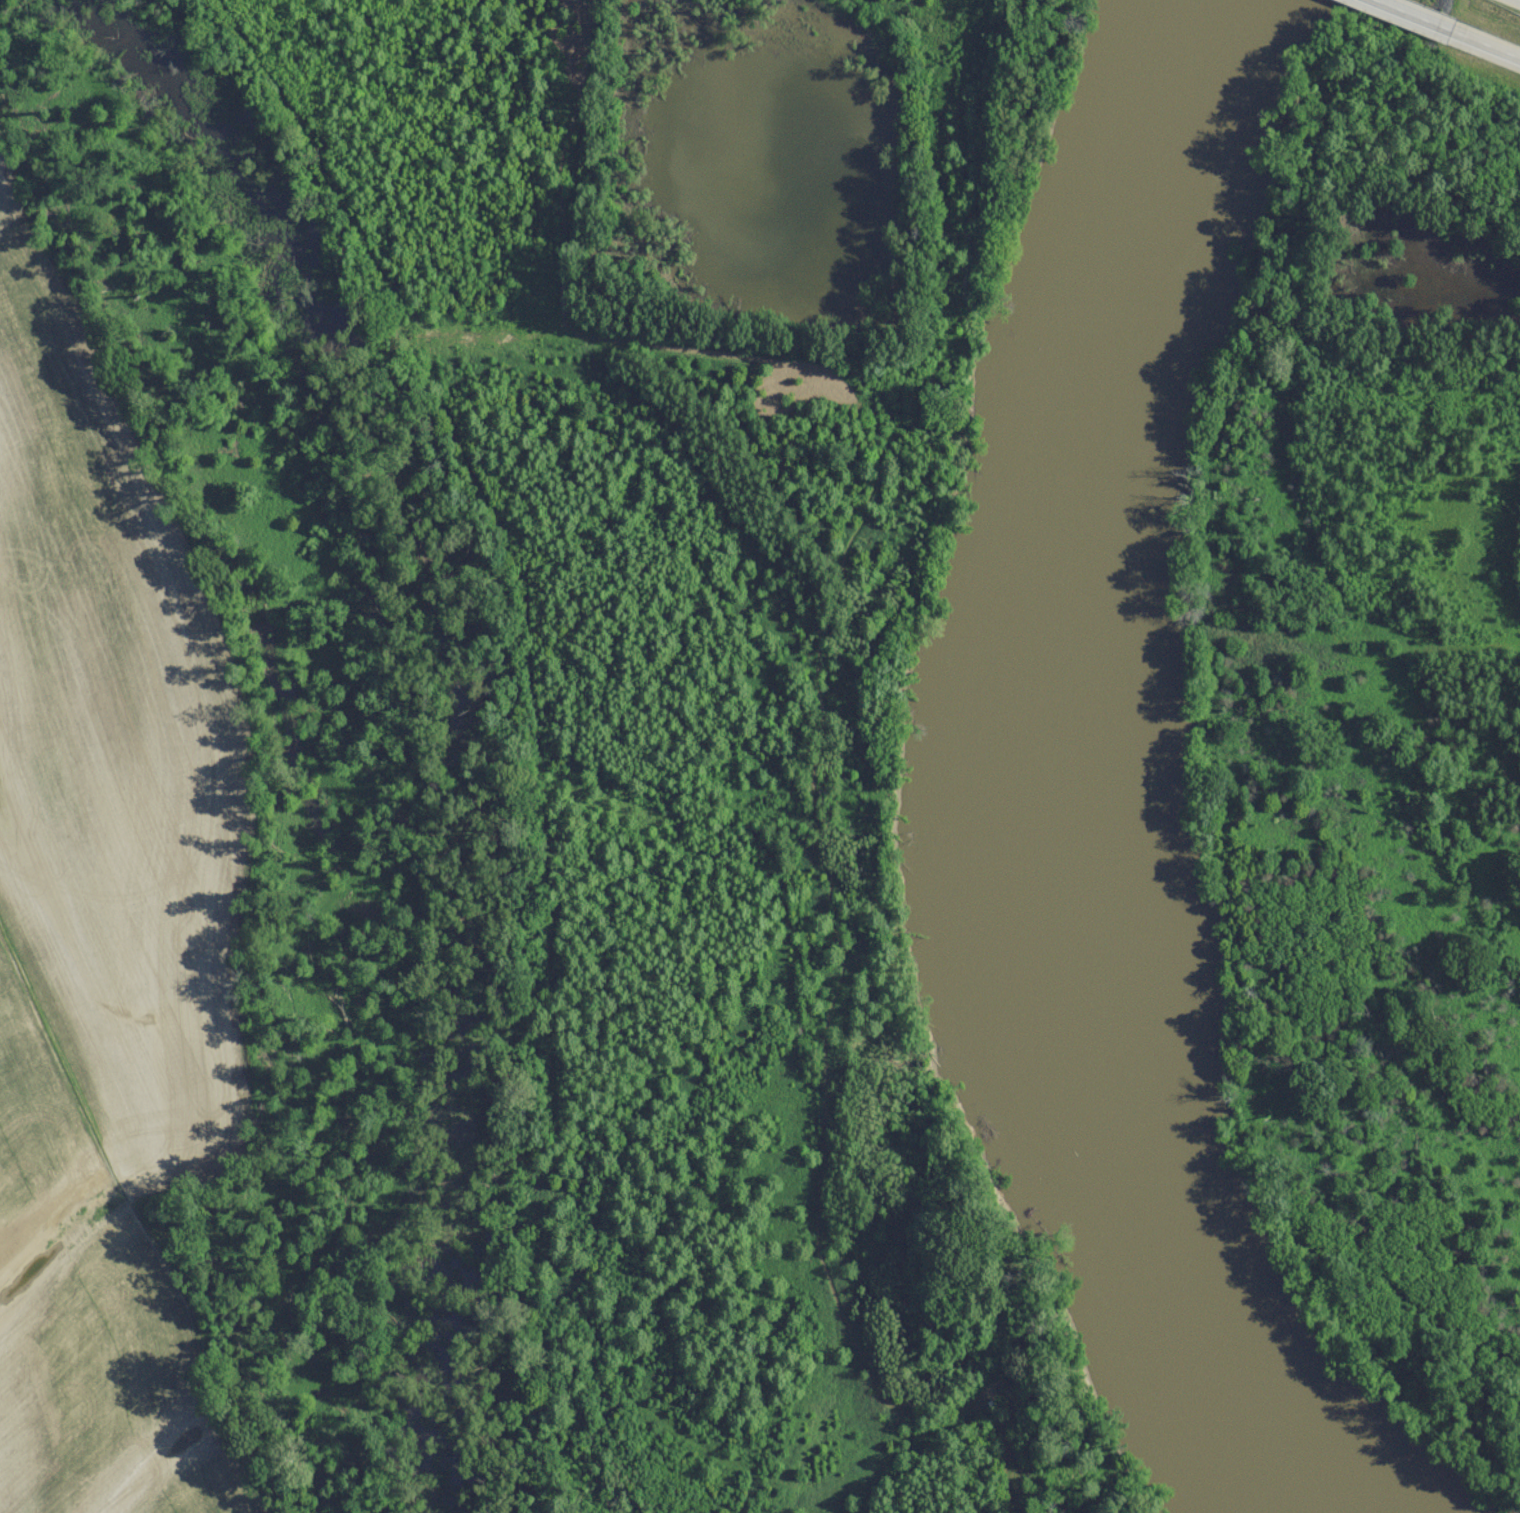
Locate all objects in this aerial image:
road: (1514, 2)
road: (1398, 16)
road: (1479, 48)
road: (1431, 651)
river: (1092, 778)
road: (84, 1119)

